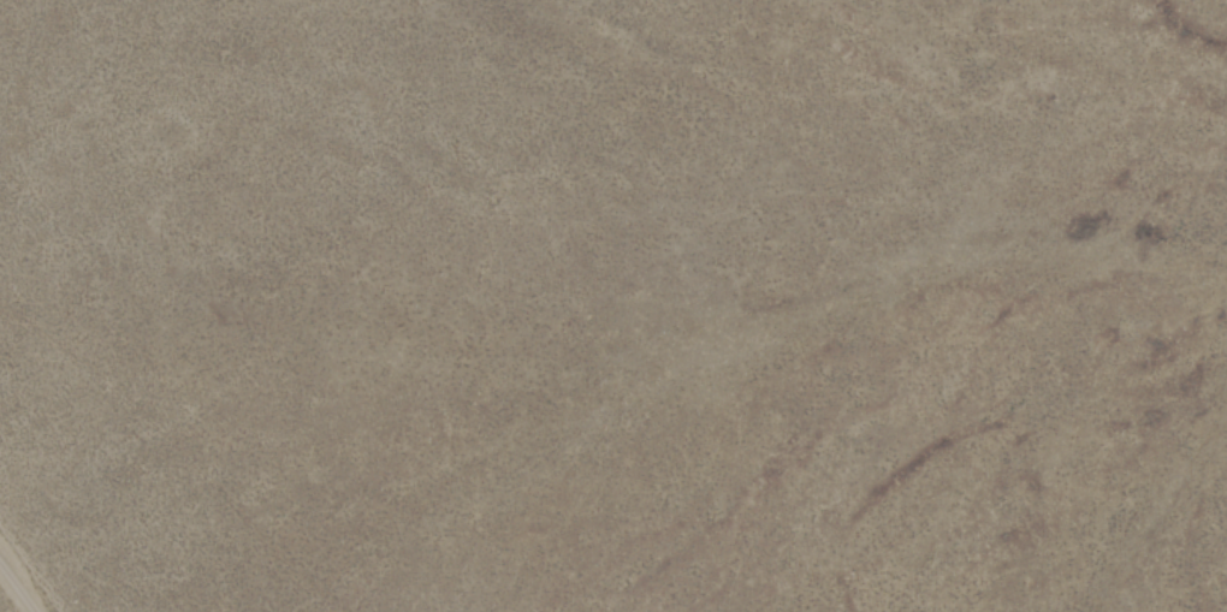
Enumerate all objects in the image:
road: (18, 587)

